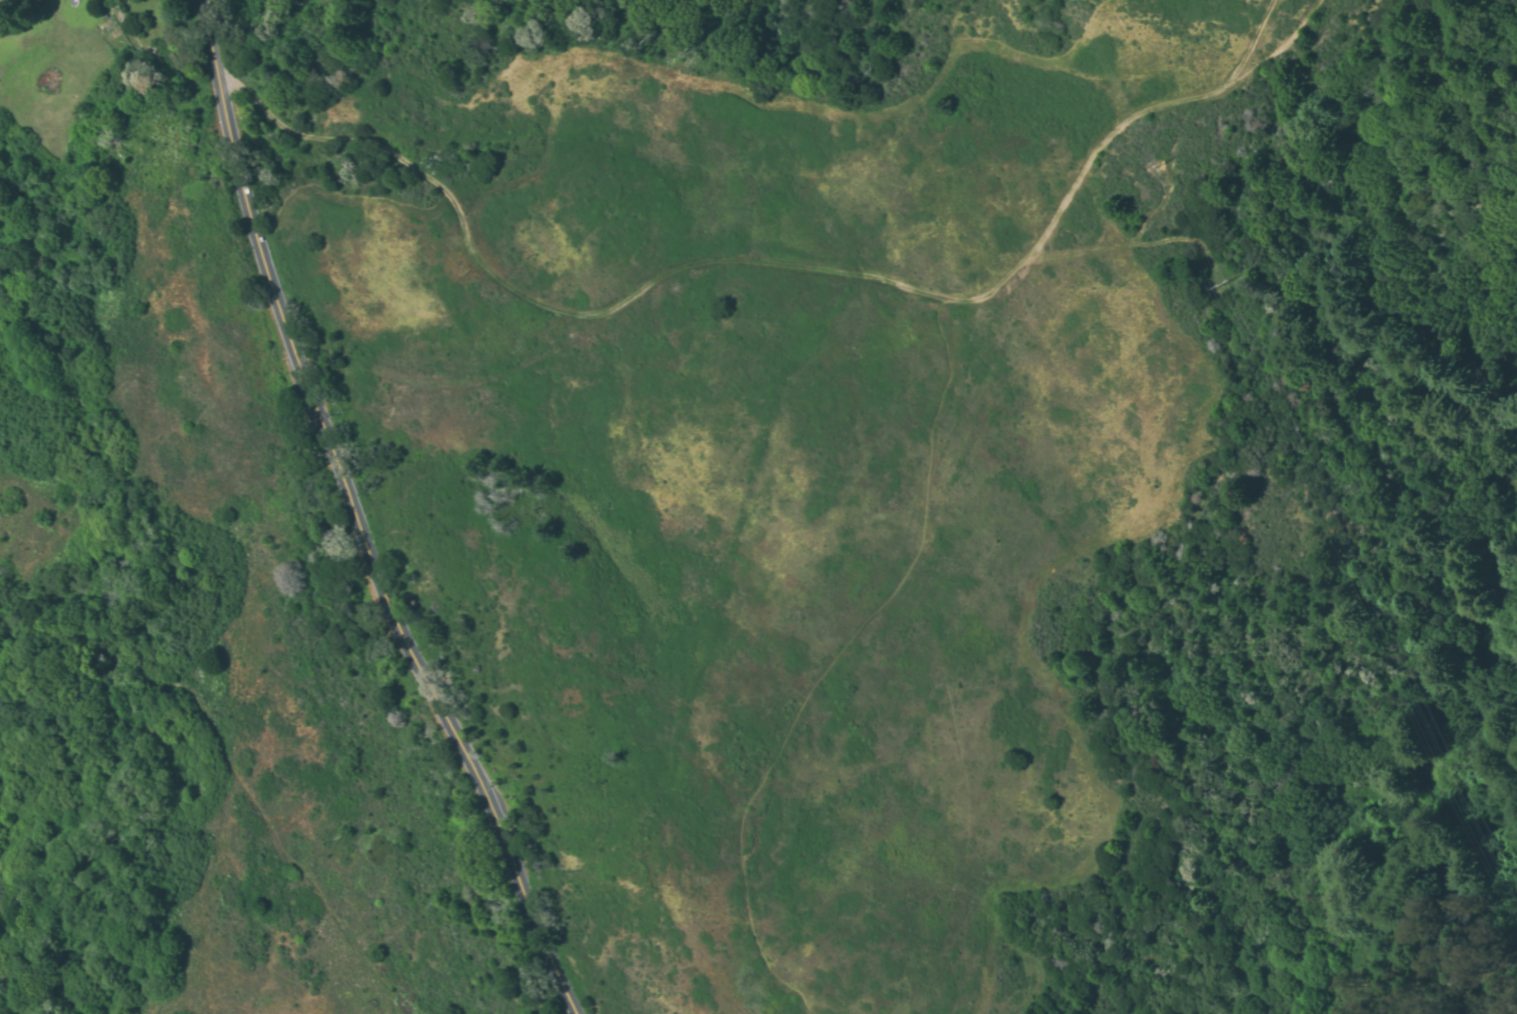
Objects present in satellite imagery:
road: (1111, 138)
road: (239, 166)
road: (550, 305)
road: (829, 665)
road: (421, 677)
road: (218, 754)
road: (1013, 991)

